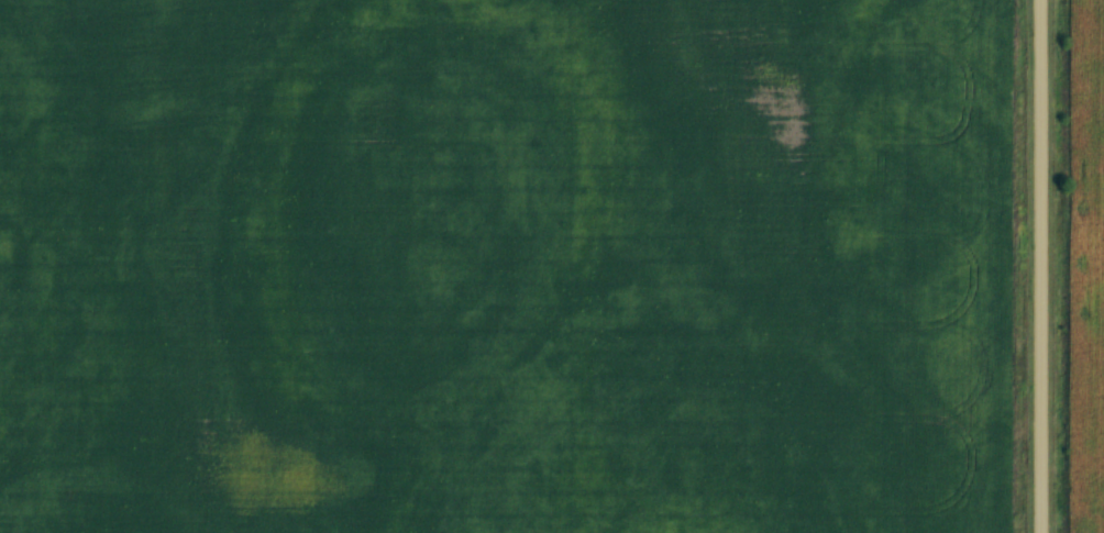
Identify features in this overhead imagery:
road: (1041, 266)

